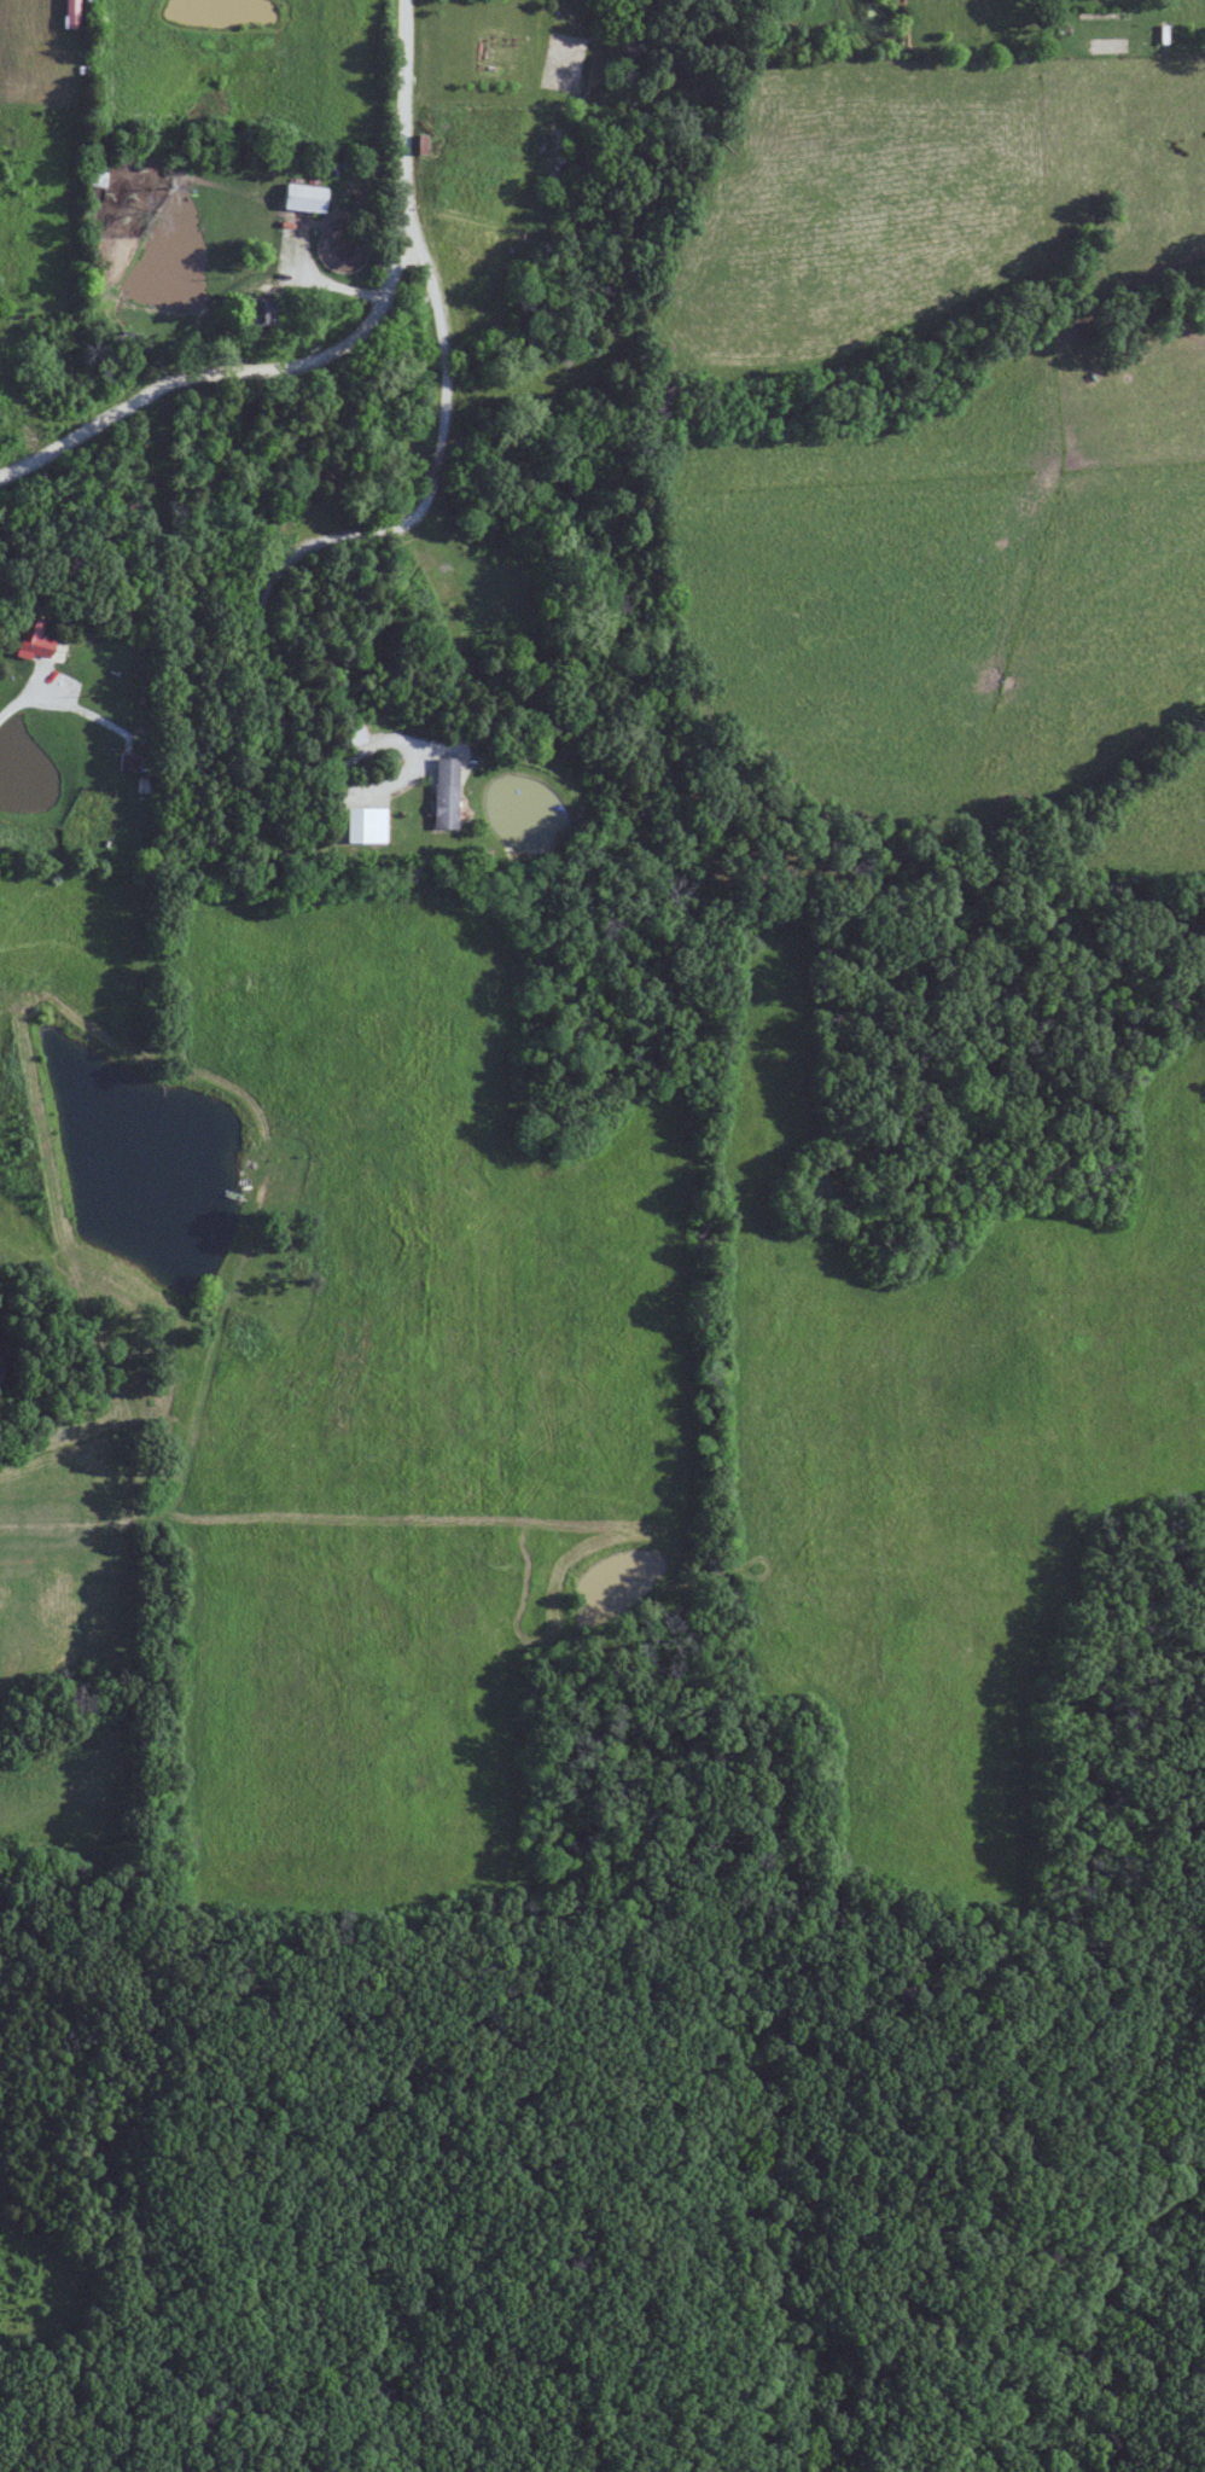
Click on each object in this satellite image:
building: (71, 13)
building: (303, 197)
building: (257, 309)
road: (342, 353)
road: (342, 536)
building: (30, 641)
road: (30, 682)
building: (443, 792)
building: (366, 824)

